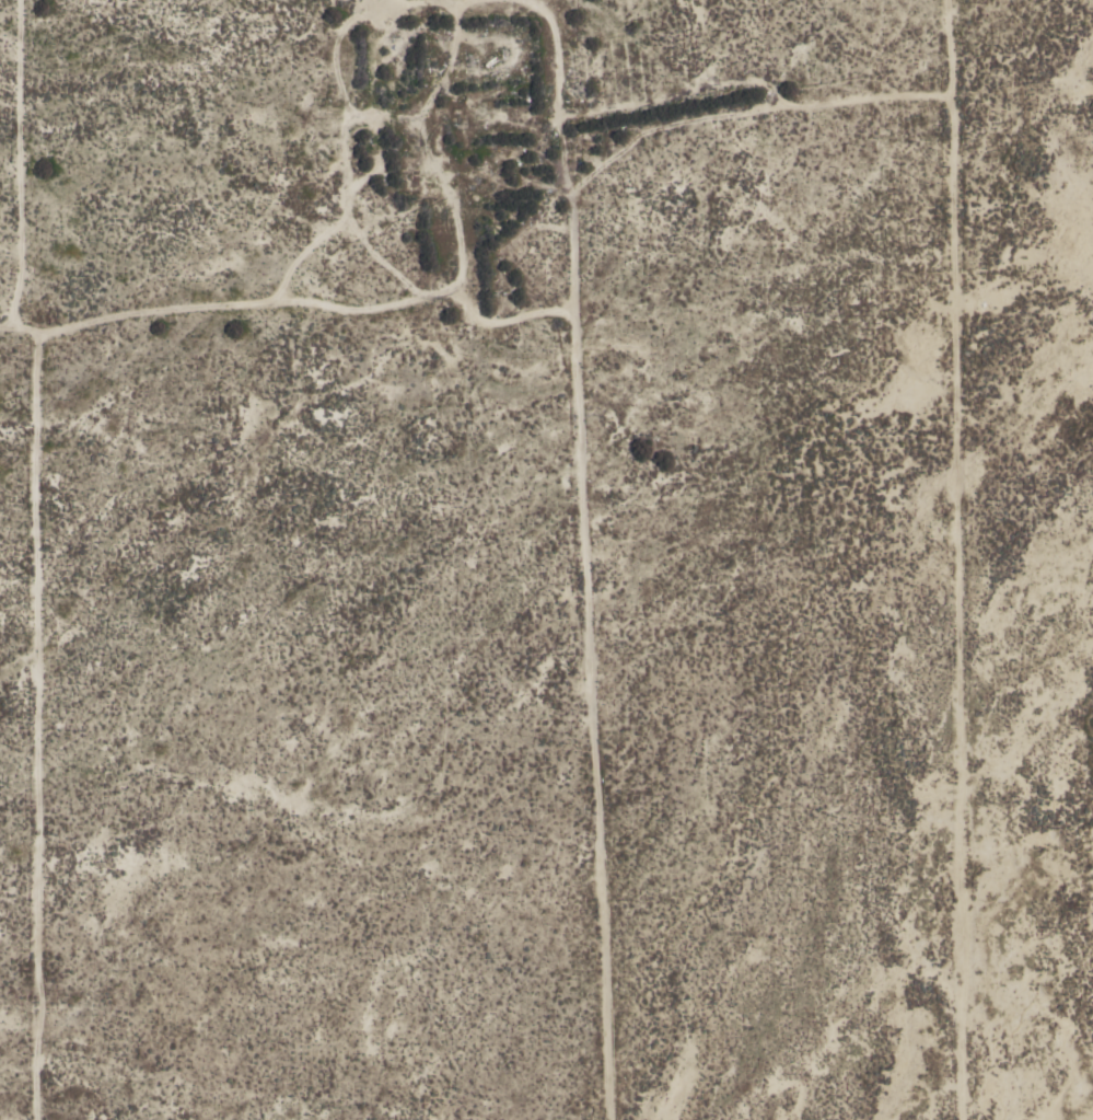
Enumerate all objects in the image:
road: (33, 157)
railway: (456, 262)
railway: (444, 265)
road: (19, 313)
railway: (821, 822)
railway: (810, 825)

